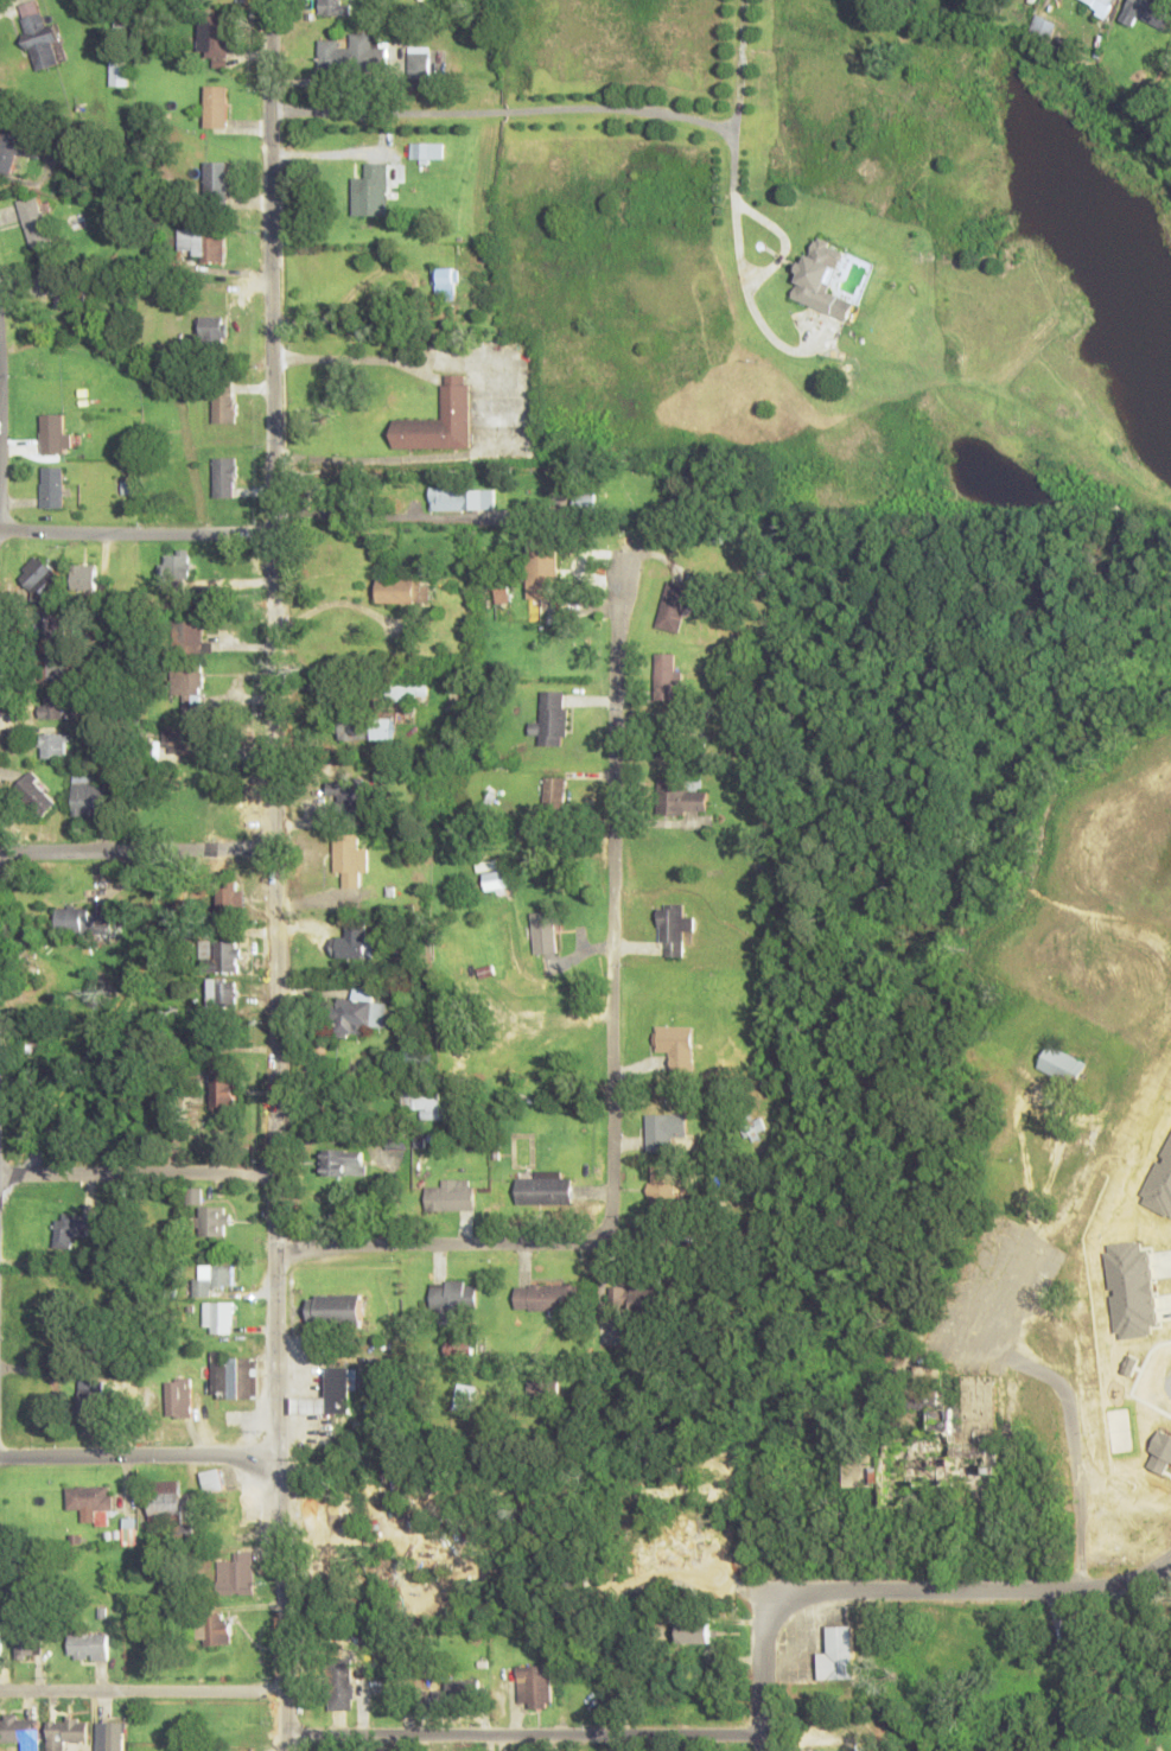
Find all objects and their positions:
building: (1100, 6)
building: (332, 7)
building: (1148, 12)
building: (1042, 27)
building: (39, 38)
building: (214, 40)
building: (352, 55)
building: (425, 63)
building: (117, 72)
building: (216, 106)
building: (8, 148)
building: (426, 151)
building: (215, 182)
building: (371, 191)
building: (33, 222)
building: (199, 244)
building: (821, 279)
building: (446, 281)
building: (69, 298)
building: (212, 330)
building: (222, 409)
building: (441, 420)
building: (53, 433)
building: (222, 477)
building: (51, 486)
building: (462, 498)
building: (584, 501)
building: (715, 526)
road: (135, 534)
building: (542, 567)
building: (173, 568)
building: (84, 577)
building: (42, 578)
building: (402, 591)
building: (673, 605)
building: (51, 625)
building: (186, 636)
building: (51, 666)
building: (668, 675)
building: (186, 686)
building: (403, 692)
building: (52, 705)
building: (552, 718)
building: (384, 727)
building: (354, 730)
building: (669, 736)
building: (184, 740)
building: (55, 745)
building: (554, 792)
building: (36, 794)
building: (346, 794)
building: (88, 795)
building: (681, 795)
road: (138, 853)
building: (349, 858)
road: (275, 875)
building: (496, 879)
road: (612, 893)
building: (229, 896)
building: (83, 919)
building: (673, 928)
building: (543, 932)
building: (352, 942)
building: (222, 956)
building: (221, 993)
building: (357, 1012)
building: (677, 1045)
building: (424, 1058)
building: (1061, 1064)
building: (223, 1088)
building: (424, 1102)
building: (664, 1129)
building: (344, 1161)
road: (136, 1174)
building: (545, 1189)
building: (662, 1190)
building: (451, 1196)
building: (212, 1221)
building: (68, 1231)
road: (460, 1244)
building: (211, 1276)
building: (548, 1297)
building: (637, 1297)
building: (454, 1301)
building: (335, 1307)
building: (42, 1309)
building: (218, 1317)
building: (616, 1335)
building: (459, 1348)
building: (235, 1377)
building: (91, 1392)
building: (329, 1394)
building: (467, 1396)
building: (179, 1397)
road: (1082, 1406)
building: (973, 1421)
road: (139, 1456)
building: (938, 1465)
building: (880, 1476)
building: (212, 1479)
building: (89, 1497)
building: (165, 1498)
building: (131, 1530)
building: (236, 1573)
road: (956, 1592)
building: (212, 1629)
building: (694, 1631)
building: (1078, 1635)
building: (0, 1641)
building: (27, 1645)
building: (89, 1645)
building: (838, 1654)
road: (762, 1672)
building: (341, 1685)
building: (534, 1686)
building: (817, 1690)
building: (464, 1692)
road: (142, 1693)
building: (20, 1730)
building: (65, 1732)
building: (110, 1736)
road: (523, 1736)
building: (828, 1750)

